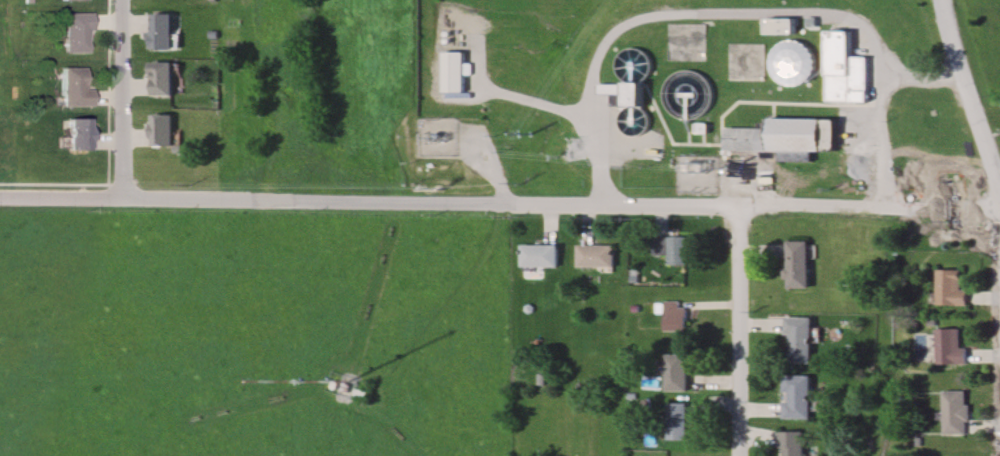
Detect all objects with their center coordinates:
building: (70, 1)
road: (786, 21)
building: (159, 32)
building: (71, 34)
building: (792, 63)
building: (745, 64)
building: (842, 70)
building: (451, 73)
road: (923, 78)
building: (159, 79)
building: (71, 88)
building: (631, 93)
road: (969, 93)
building: (686, 95)
road: (123, 98)
road: (536, 102)
building: (163, 130)
building: (73, 133)
road: (481, 136)
building: (781, 136)
road: (600, 161)
road: (303, 200)
road: (803, 207)
building: (672, 249)
building: (537, 256)
building: (593, 257)
building: (794, 265)
building: (948, 289)
road: (455, 296)
building: (673, 317)
road: (739, 331)
building: (795, 341)
building: (947, 347)
building: (672, 373)
building: (794, 397)
building: (953, 413)
building: (673, 422)
building: (789, 444)

